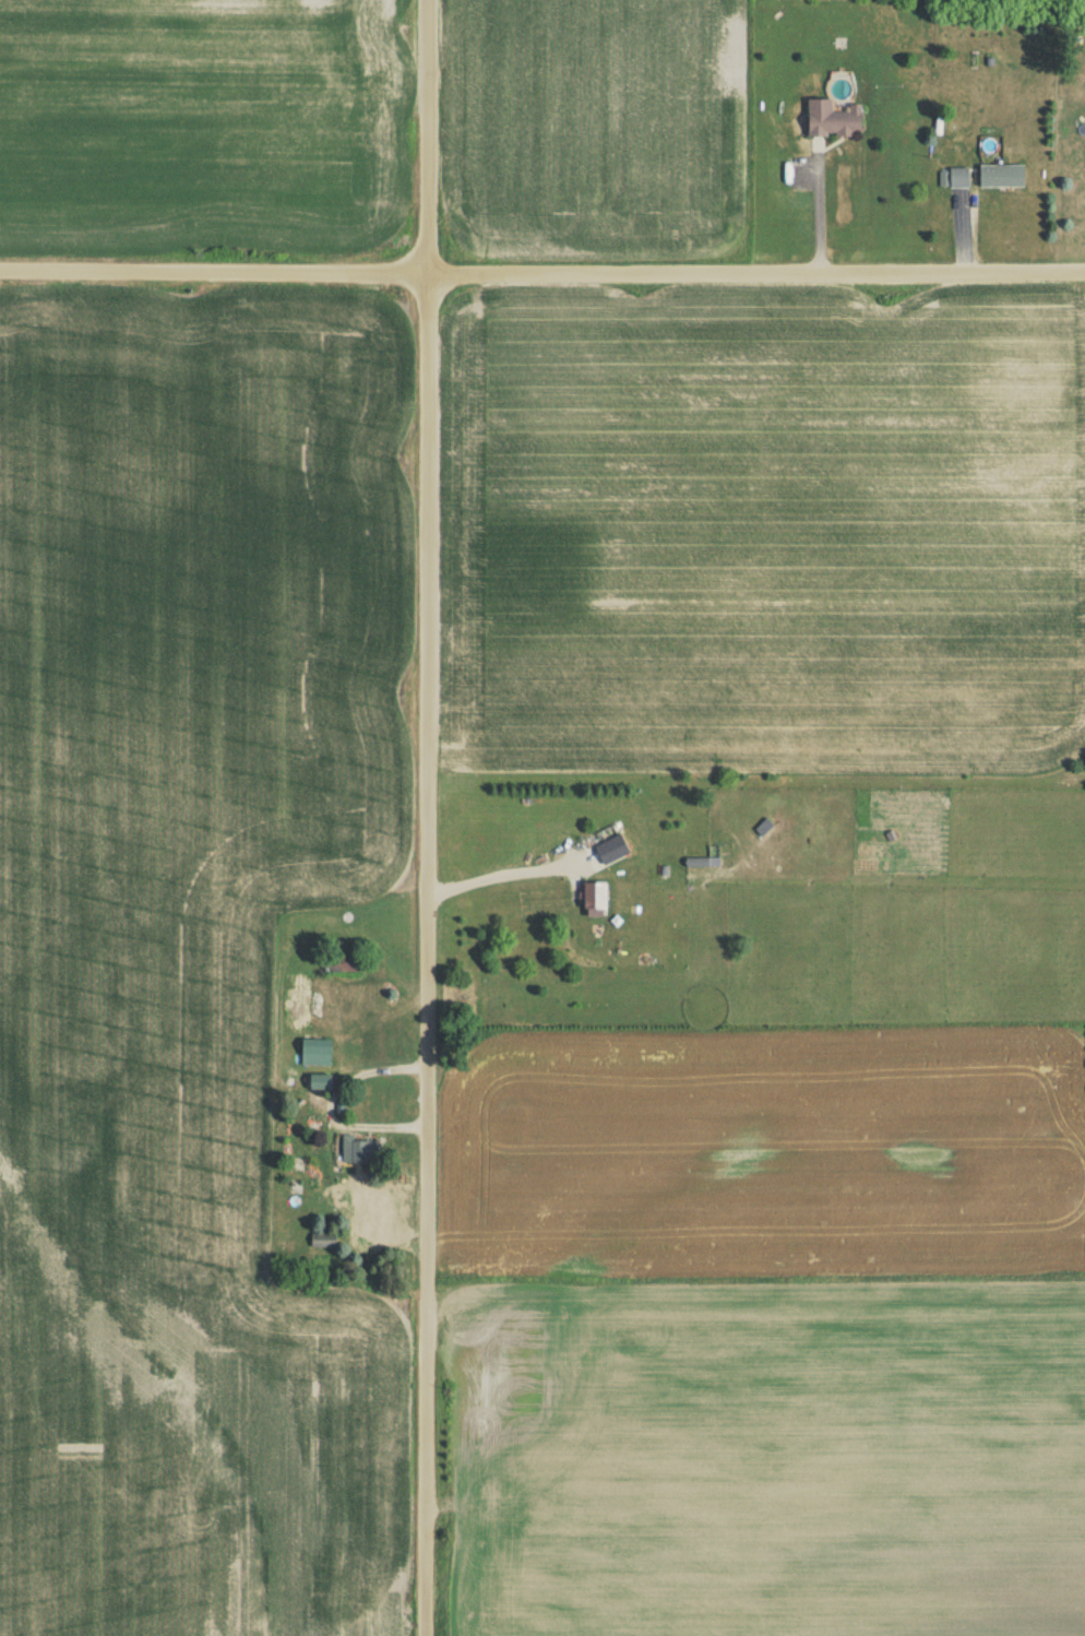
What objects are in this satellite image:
building: (828, 122)
building: (999, 179)
building: (957, 181)
road: (819, 215)
road: (541, 275)
road: (425, 817)
building: (610, 853)
road: (499, 878)
building: (591, 899)
building: (319, 1001)
building: (312, 1056)
building: (358, 1155)
building: (321, 1245)
crop: (777, 1461)

